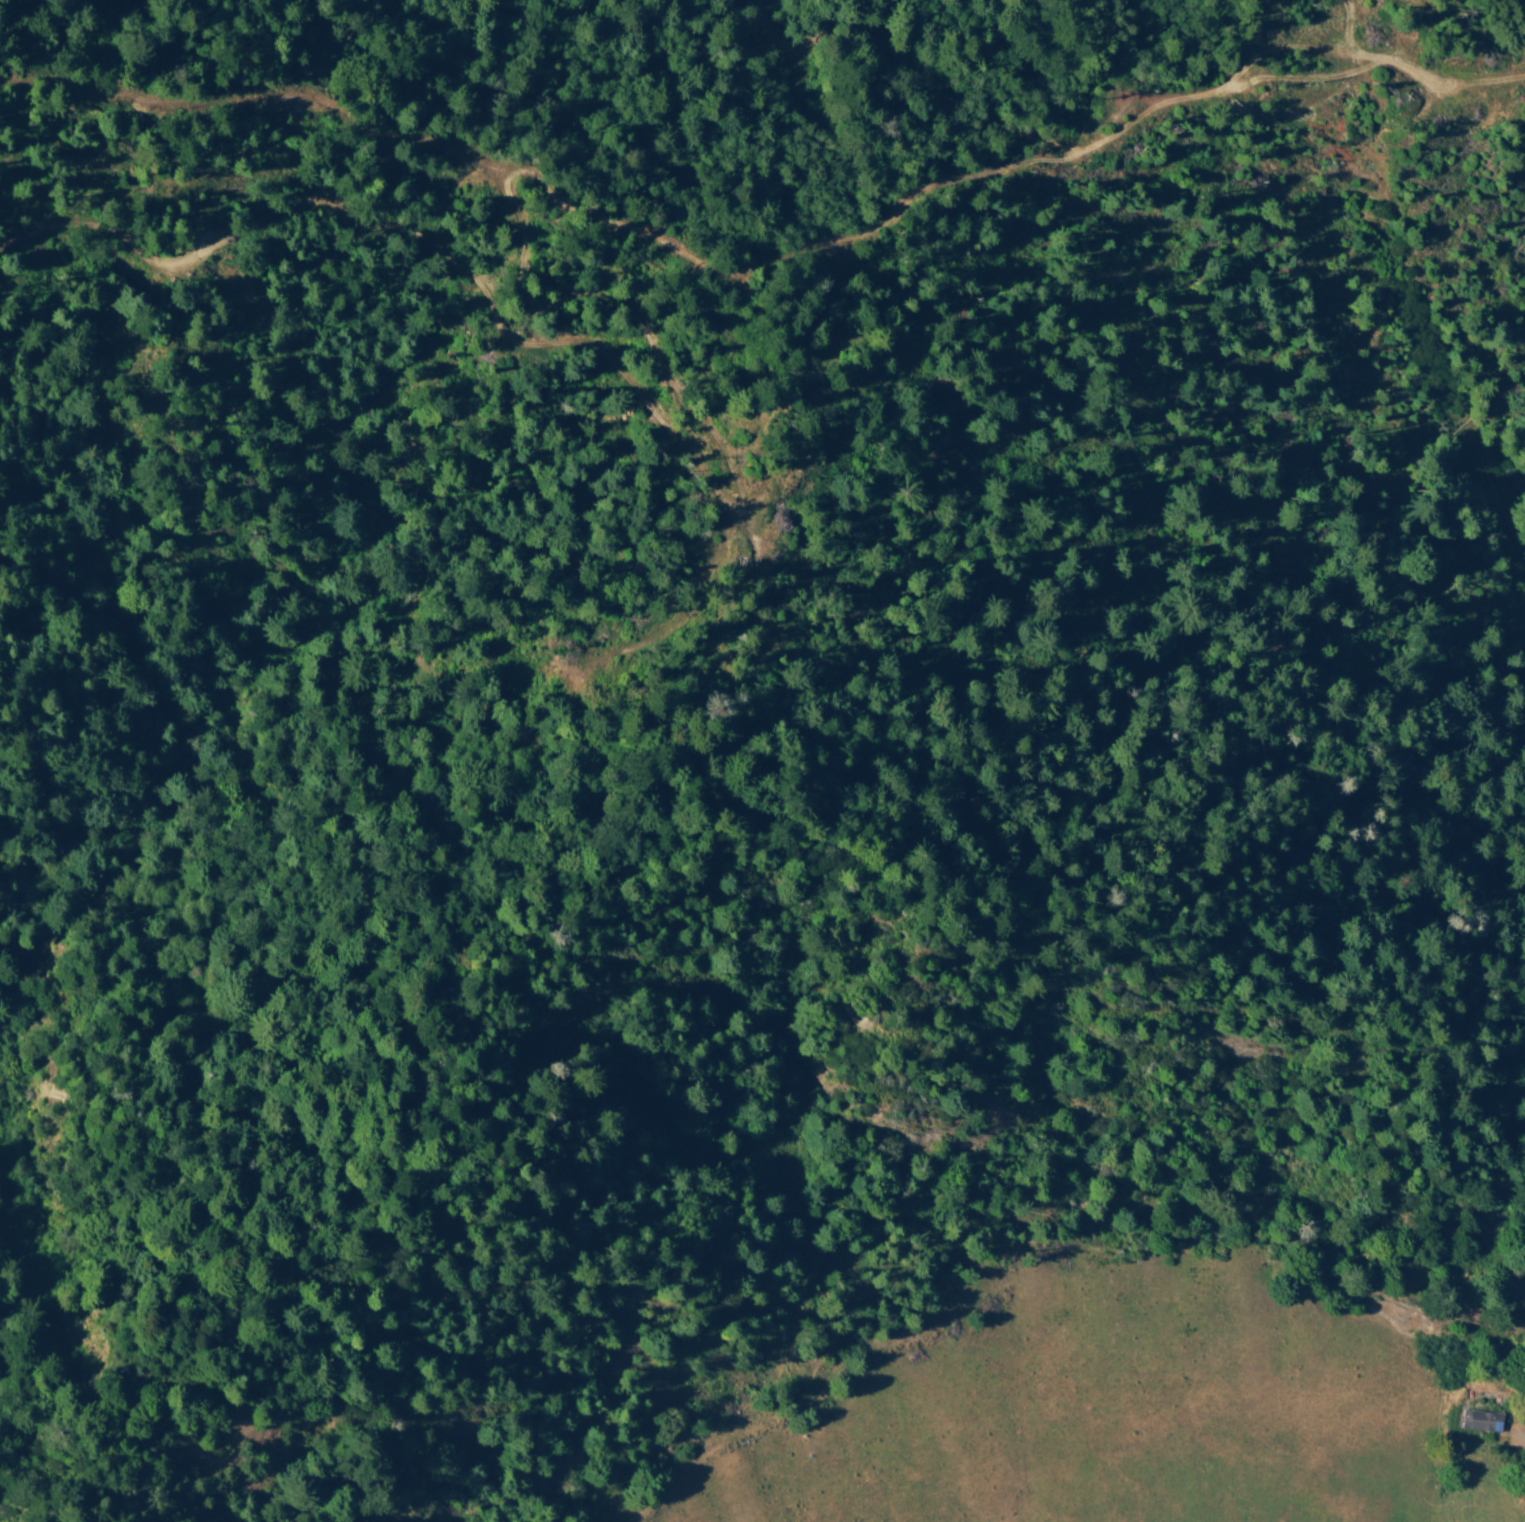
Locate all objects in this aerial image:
building: (1480, 1419)

